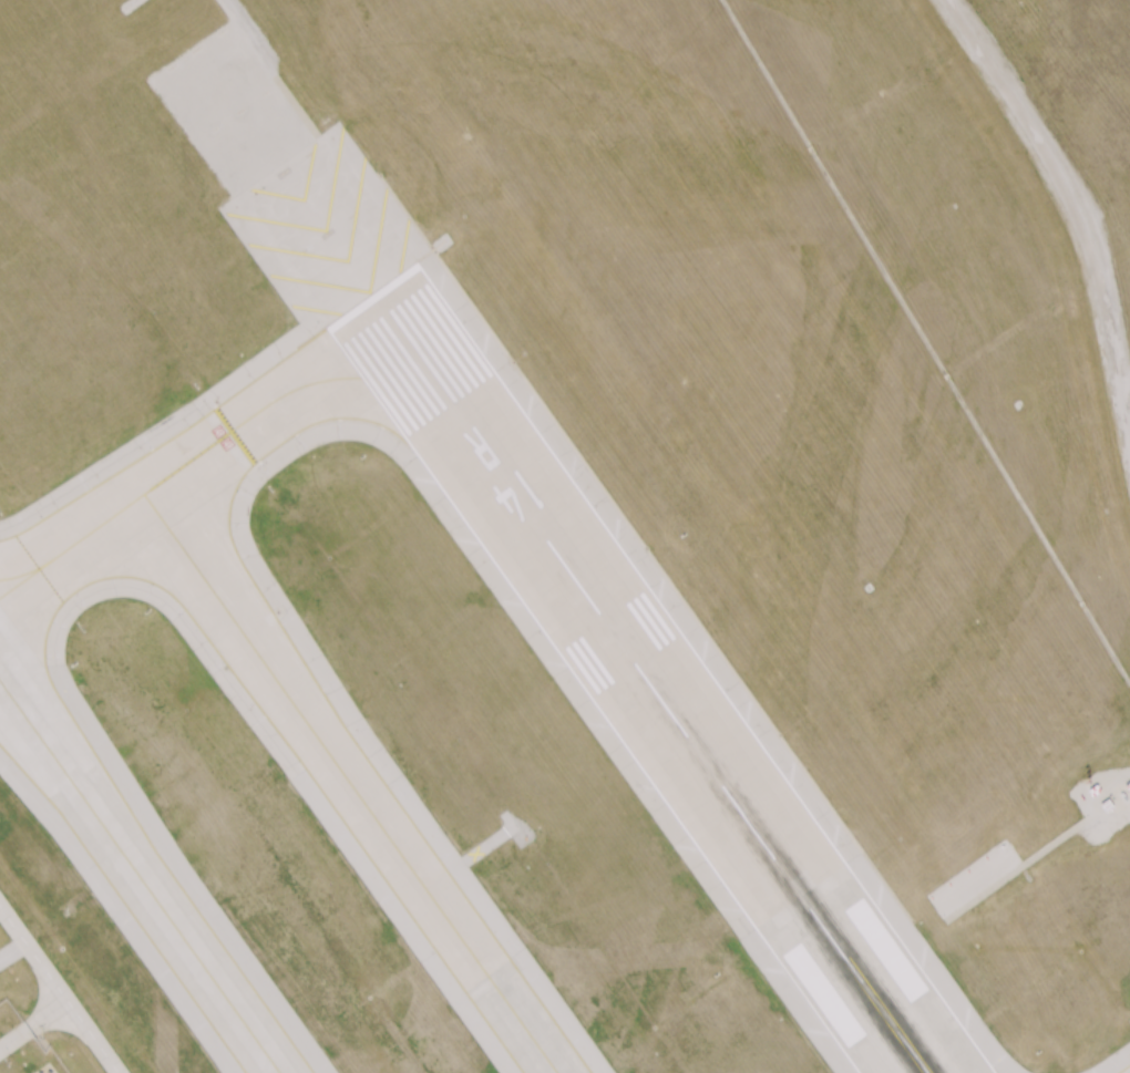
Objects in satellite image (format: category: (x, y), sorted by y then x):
road: (239, 20)
road: (1075, 204)
airport taxiway: (215, 443)
airport: (565, 536)
airport taxiway: (25, 572)
airport runway: (649, 685)
airport taxiway: (355, 783)
road: (1033, 855)
airport taxiway: (141, 877)
road: (60, 988)
road: (34, 1026)

